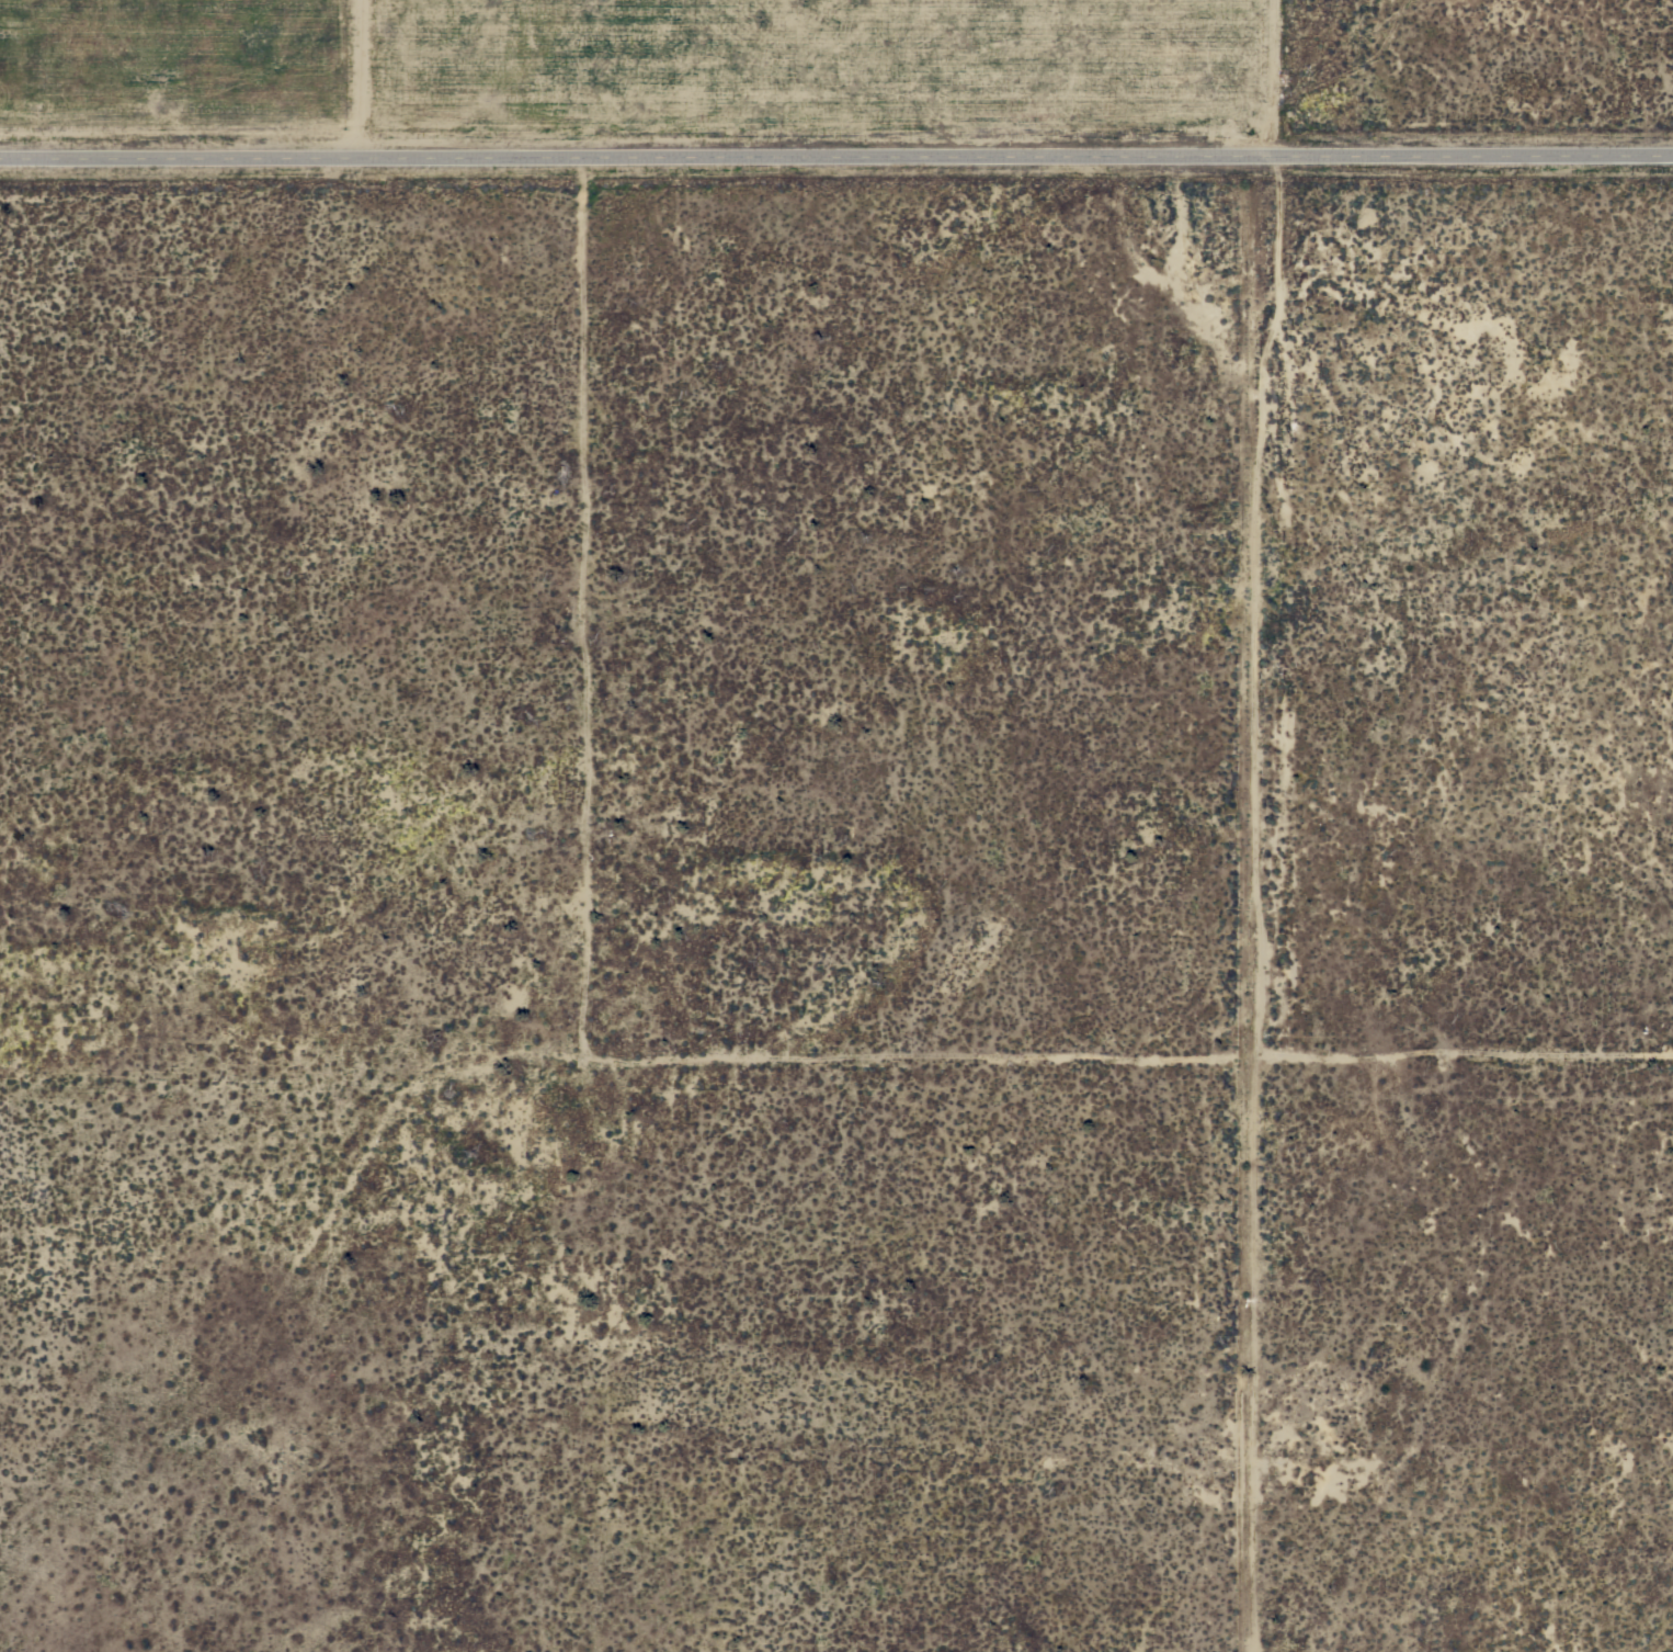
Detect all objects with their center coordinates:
crop: (648, 68)
road: (836, 157)

